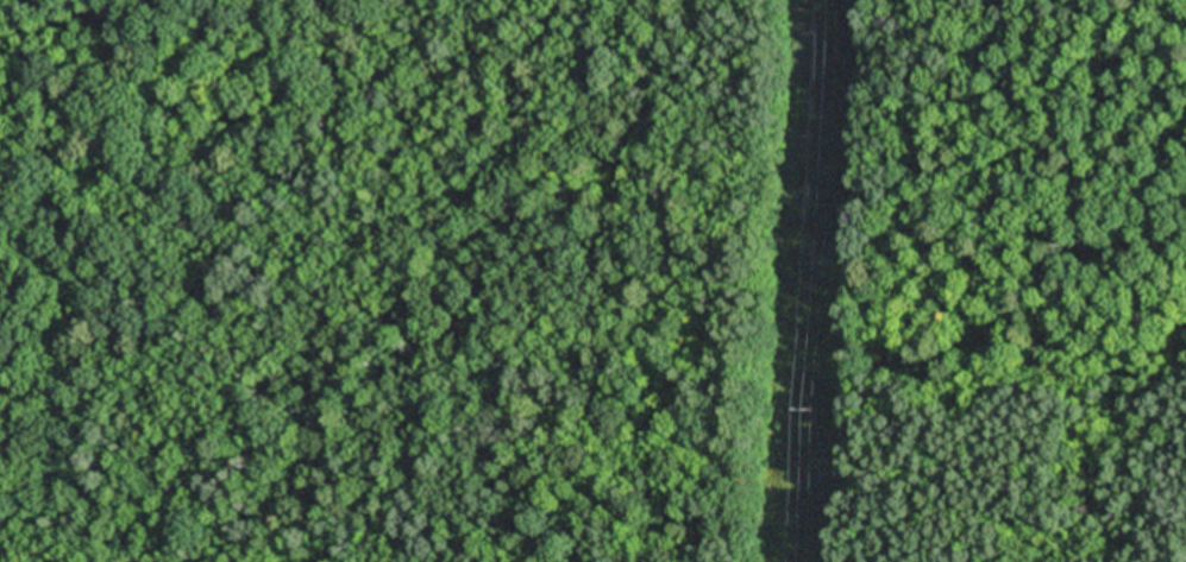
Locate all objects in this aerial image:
power tower: (815, 409)

